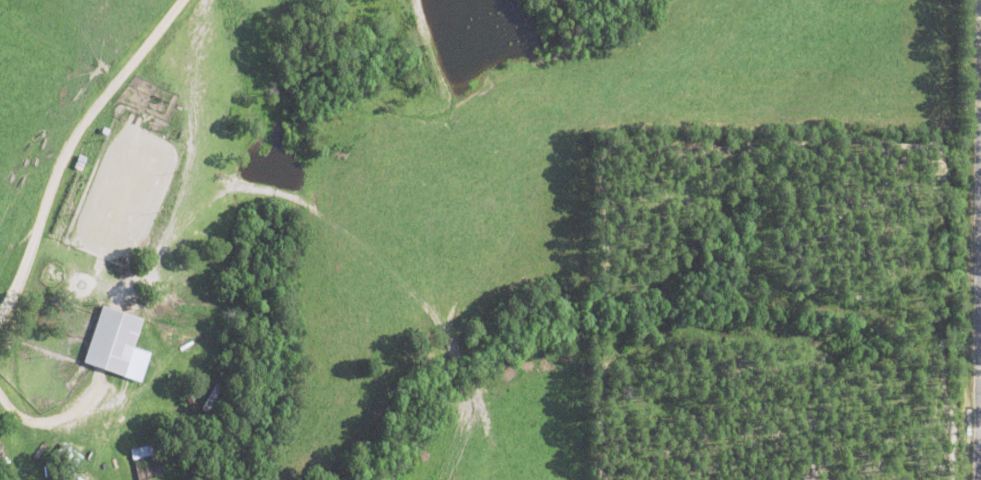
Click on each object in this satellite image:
road: (974, 240)
building: (117, 342)
building: (71, 476)

